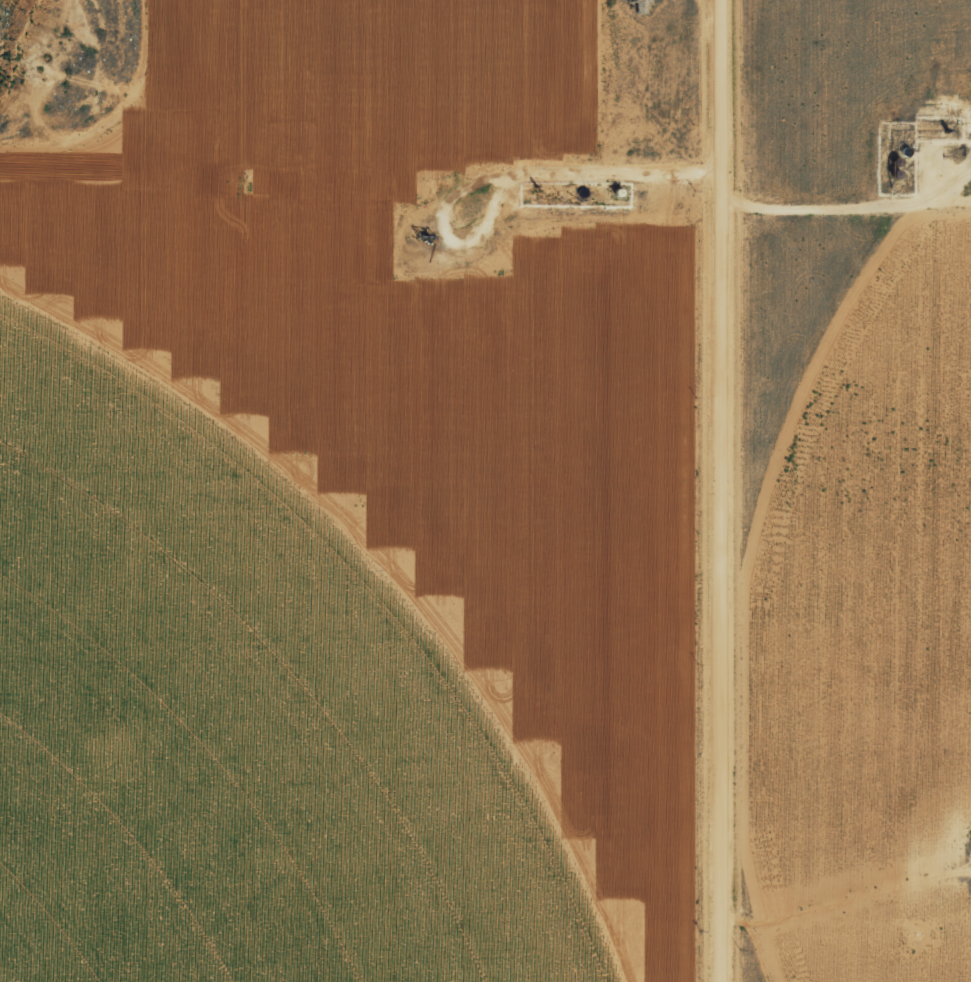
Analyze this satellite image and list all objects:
road: (730, 491)

